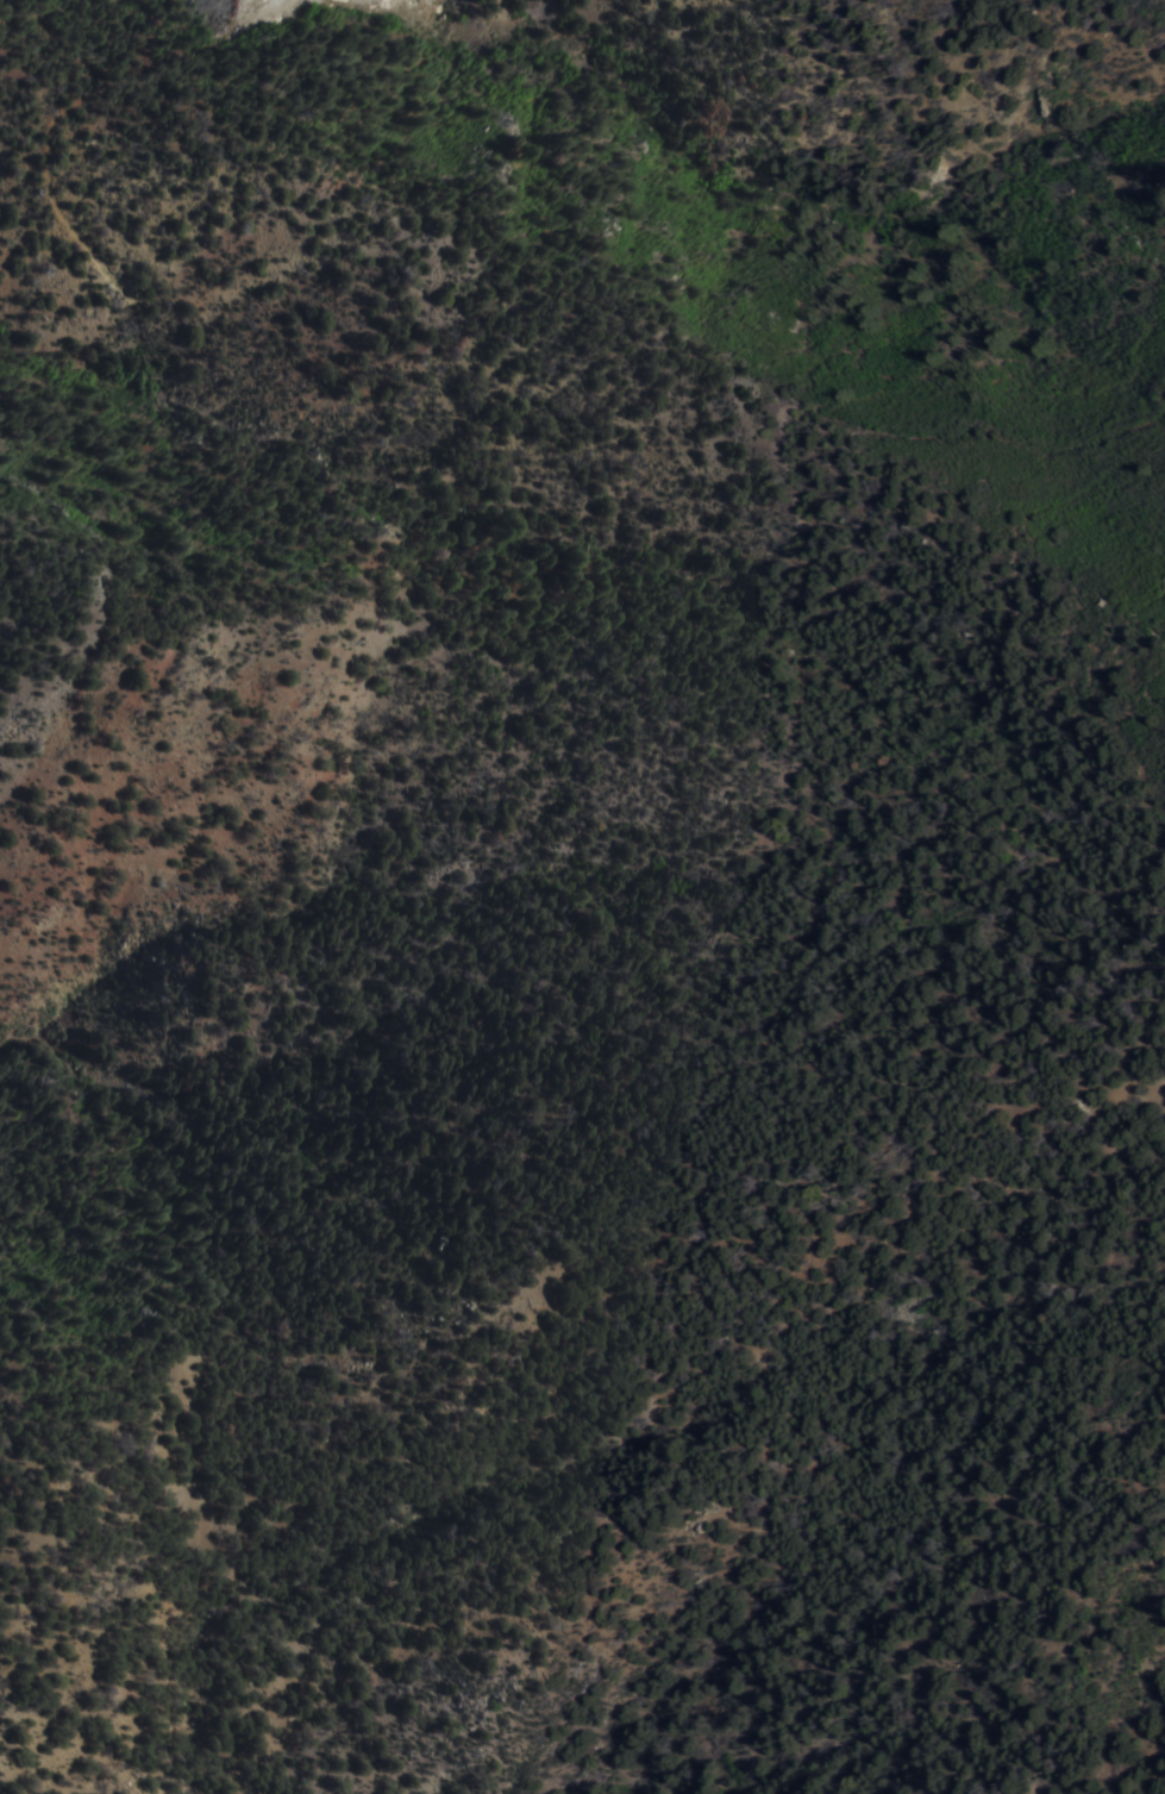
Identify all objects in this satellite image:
road: (1069, 65)
road: (1144, 269)

